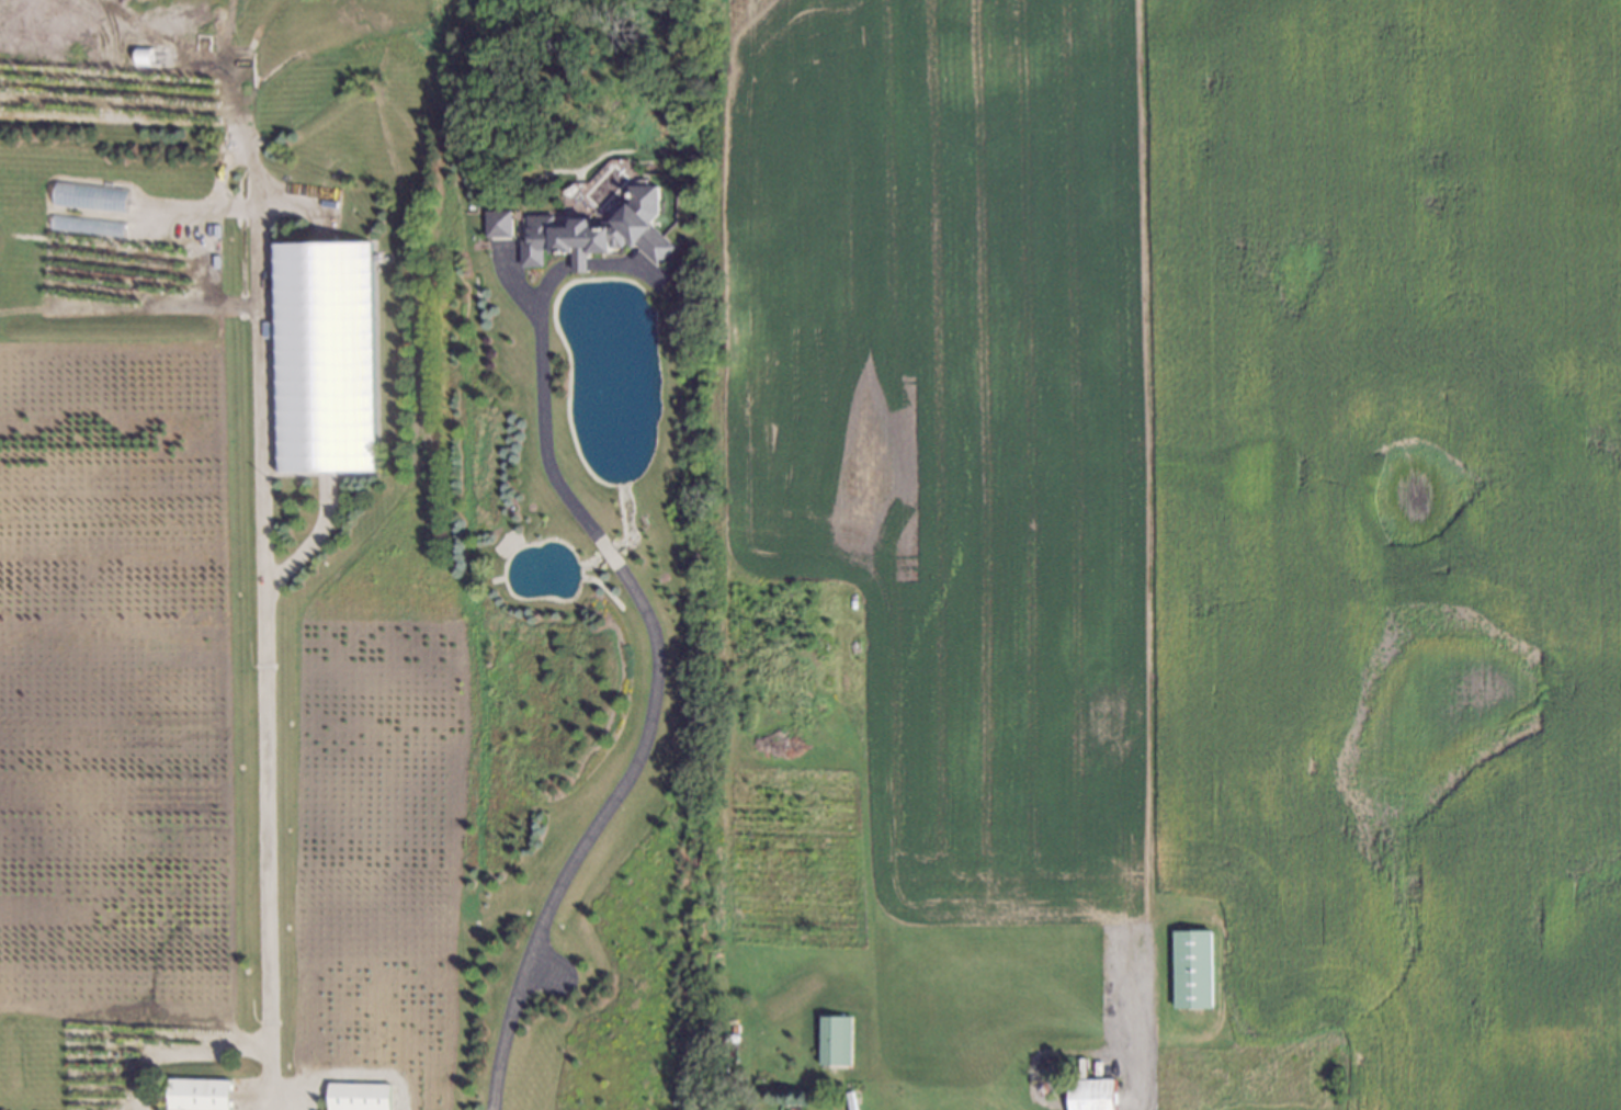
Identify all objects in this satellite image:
building: (144, 56)
building: (495, 219)
building: (602, 229)
building: (579, 260)
building: (319, 353)
road: (651, 641)
road: (265, 794)
building: (1191, 972)
building: (732, 1019)
building: (732, 1028)
building: (728, 1038)
building: (835, 1041)
building: (1035, 1051)
building: (719, 1066)
road: (345, 1073)
building: (1042, 1087)
building: (194, 1094)
building: (1088, 1095)
building: (353, 1096)

